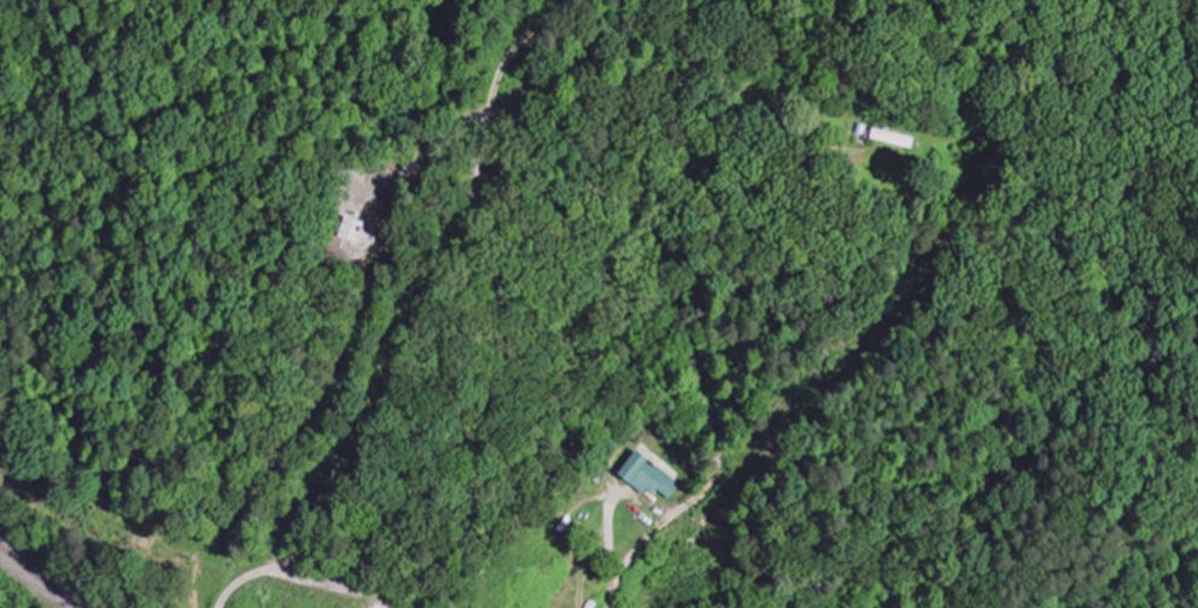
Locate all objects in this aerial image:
building: (894, 139)
building: (351, 230)
building: (649, 479)
railway: (40, 579)

